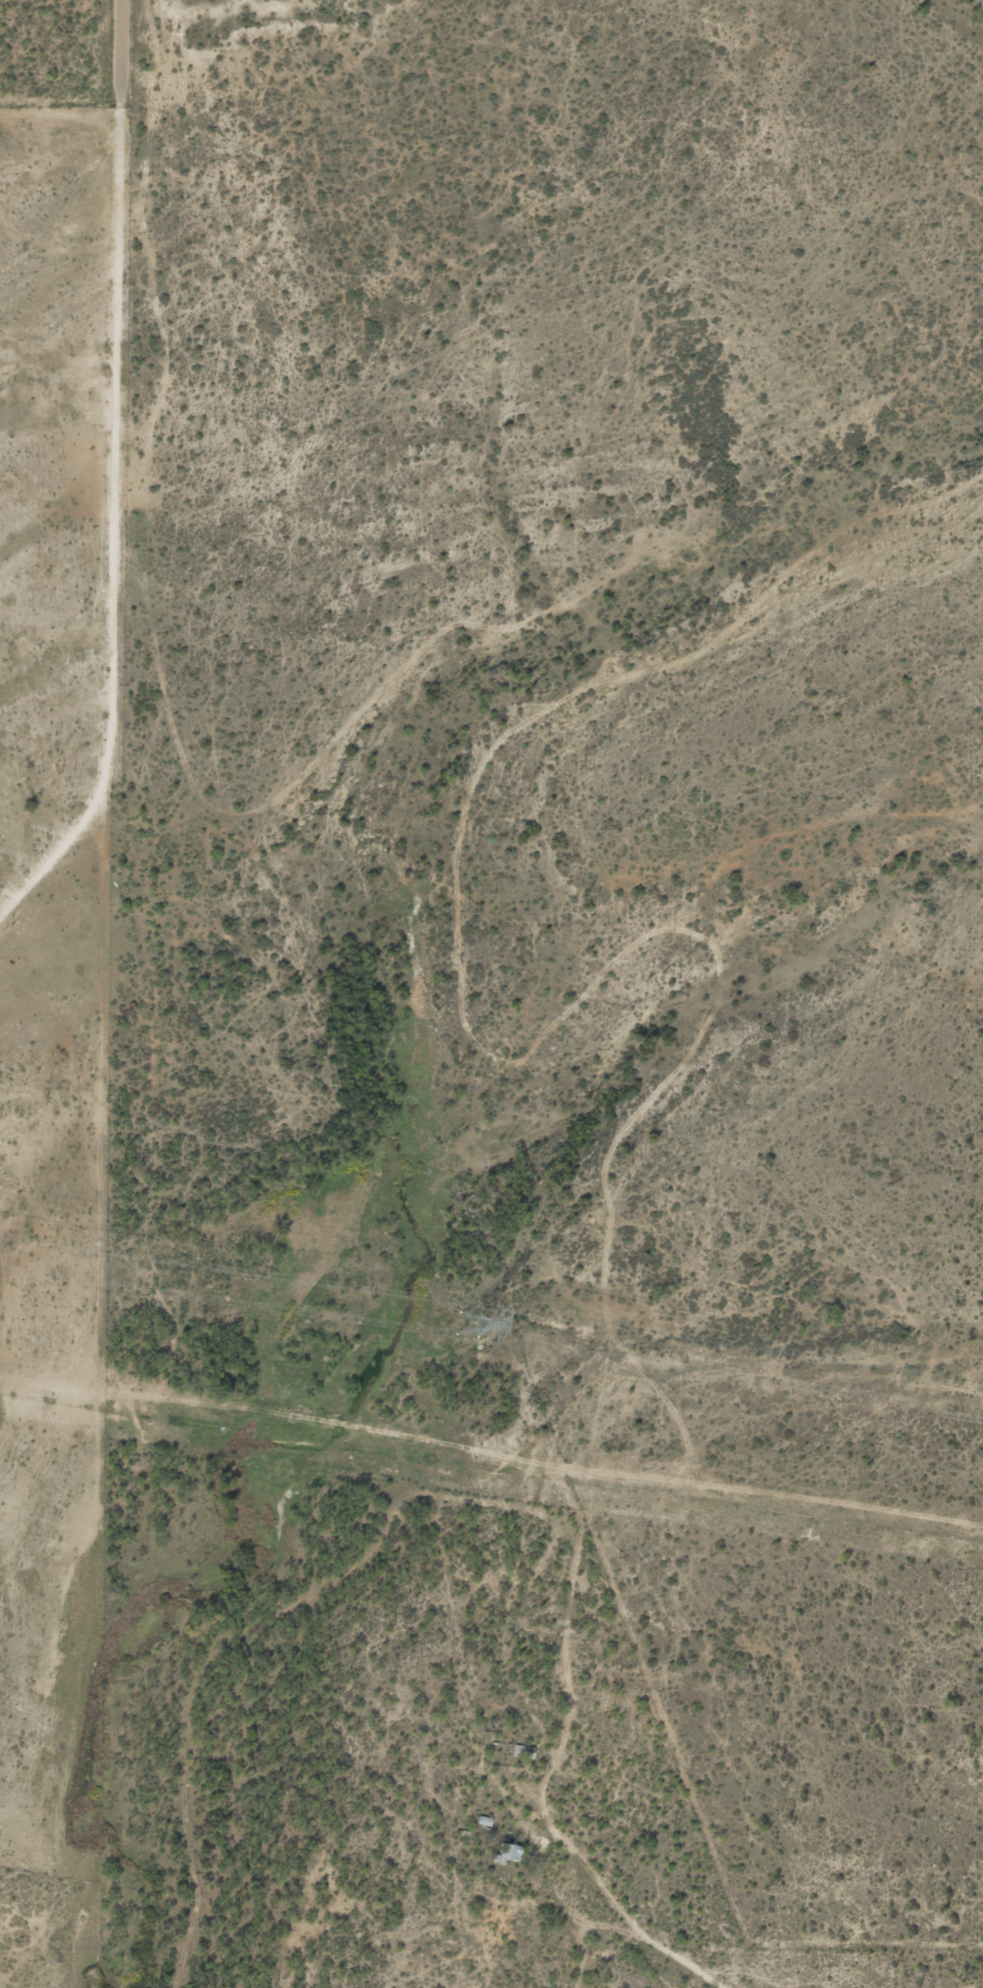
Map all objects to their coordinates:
road: (115, 199)
road: (712, 907)
power tower: (470, 1325)
road: (658, 1928)

